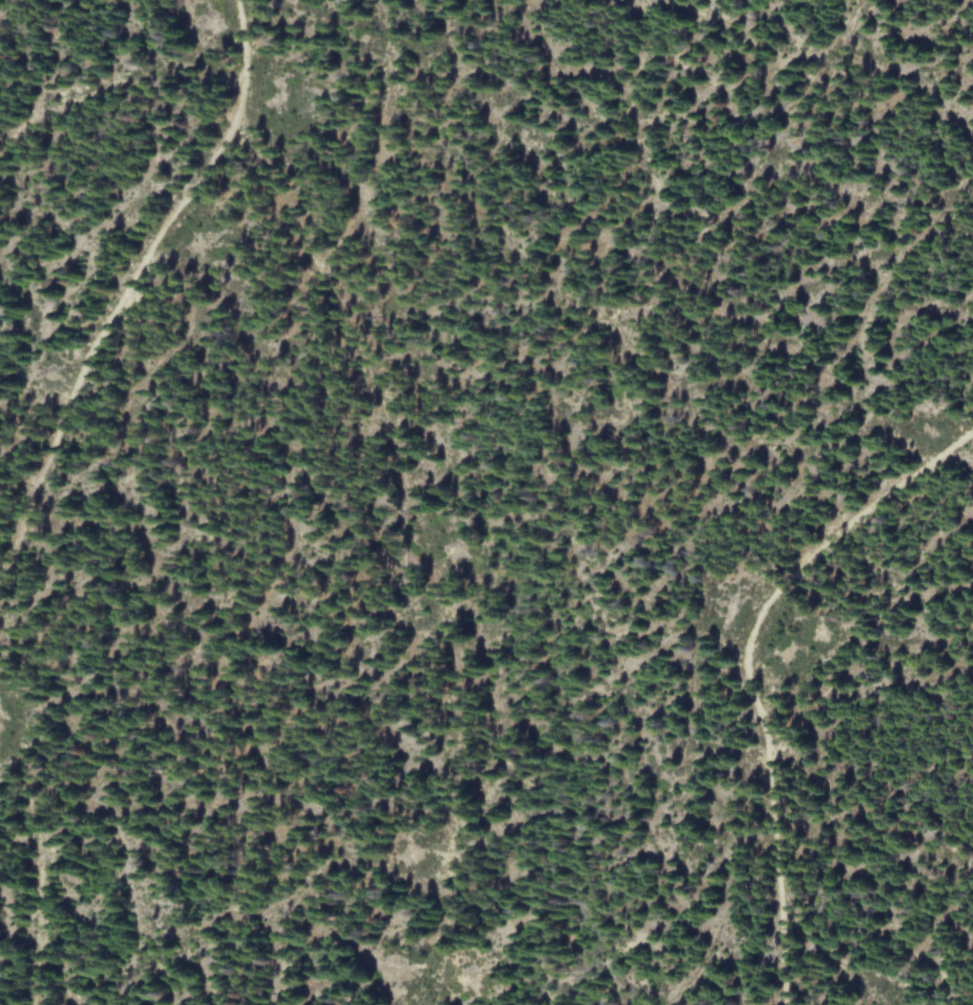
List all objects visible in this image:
road: (128, 285)
road: (746, 669)

